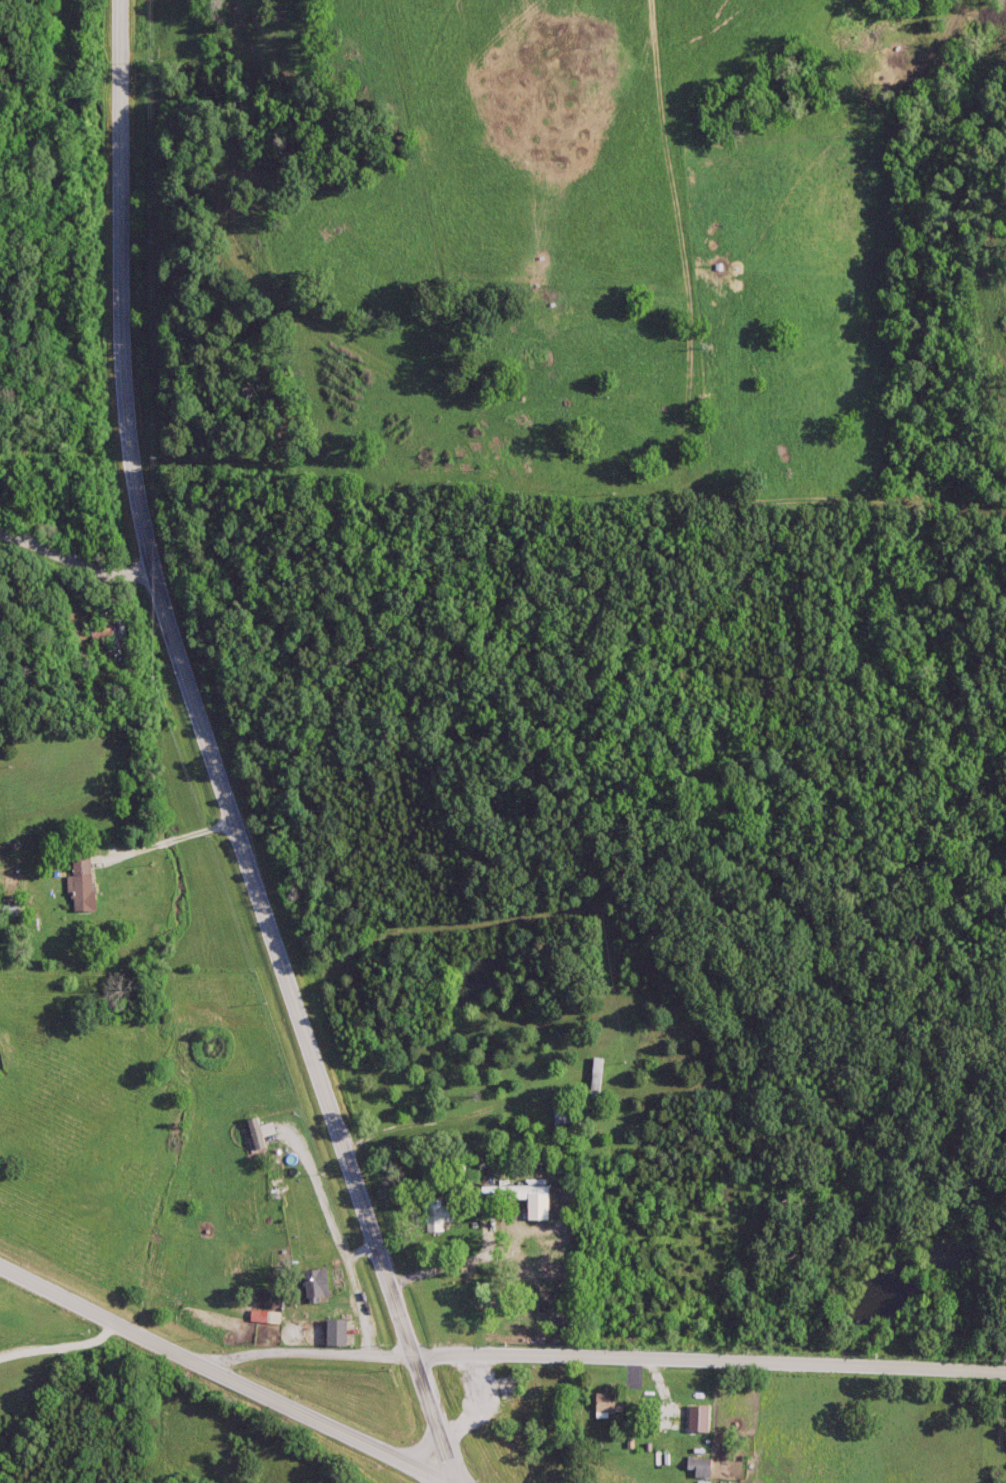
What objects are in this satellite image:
road: (75, 557)
building: (102, 635)
road: (209, 755)
road: (164, 834)
building: (79, 885)
building: (597, 1079)
building: (563, 1121)
building: (511, 1193)
building: (439, 1217)
road: (359, 1251)
road: (341, 1252)
building: (315, 1285)
building: (335, 1333)
road: (60, 1347)
road: (305, 1353)
road: (710, 1365)
road: (224, 1377)
building: (606, 1406)
road: (426, 1448)
building: (696, 1467)

